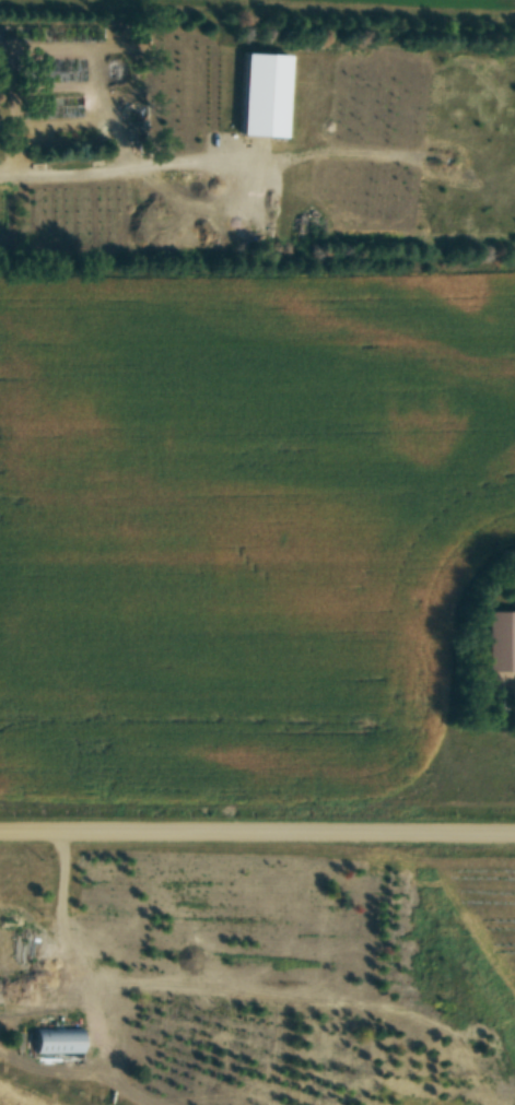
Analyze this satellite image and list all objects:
road: (120, 155)
building: (500, 639)
road: (257, 834)
building: (56, 1039)

